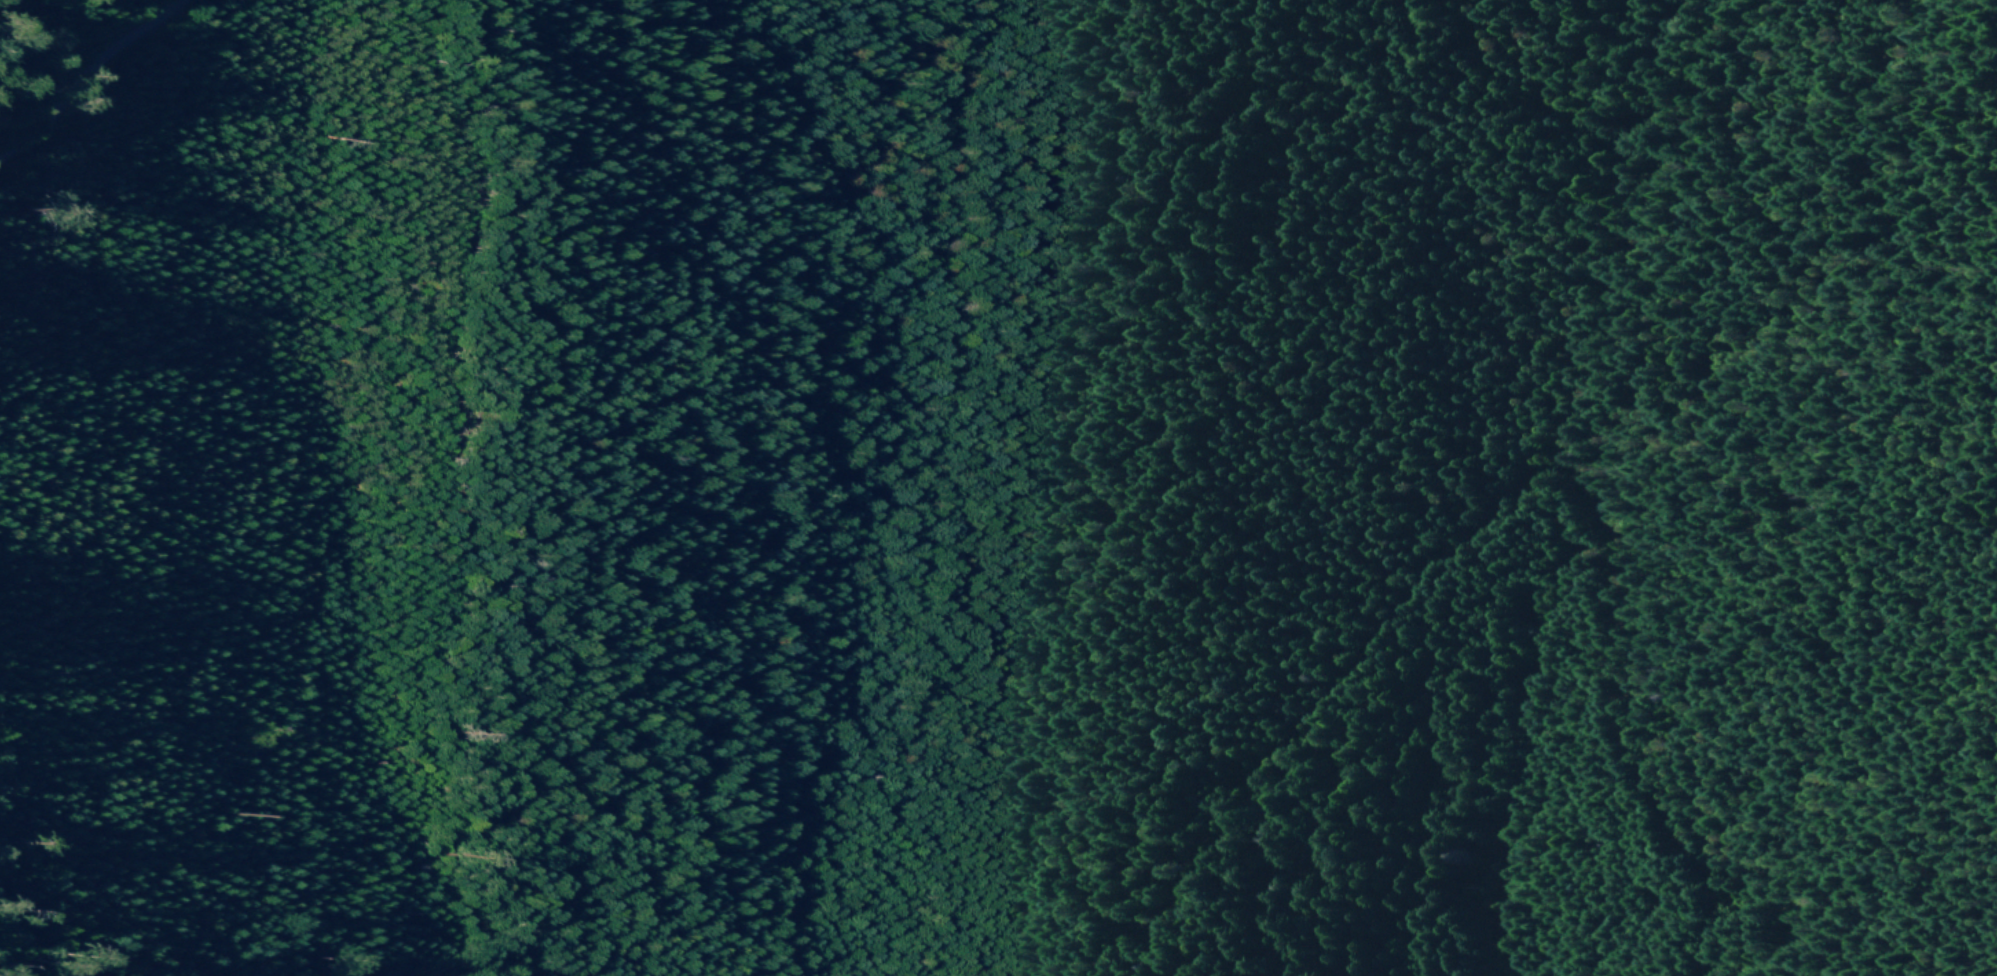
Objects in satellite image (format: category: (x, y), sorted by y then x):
road: (86, 71)

